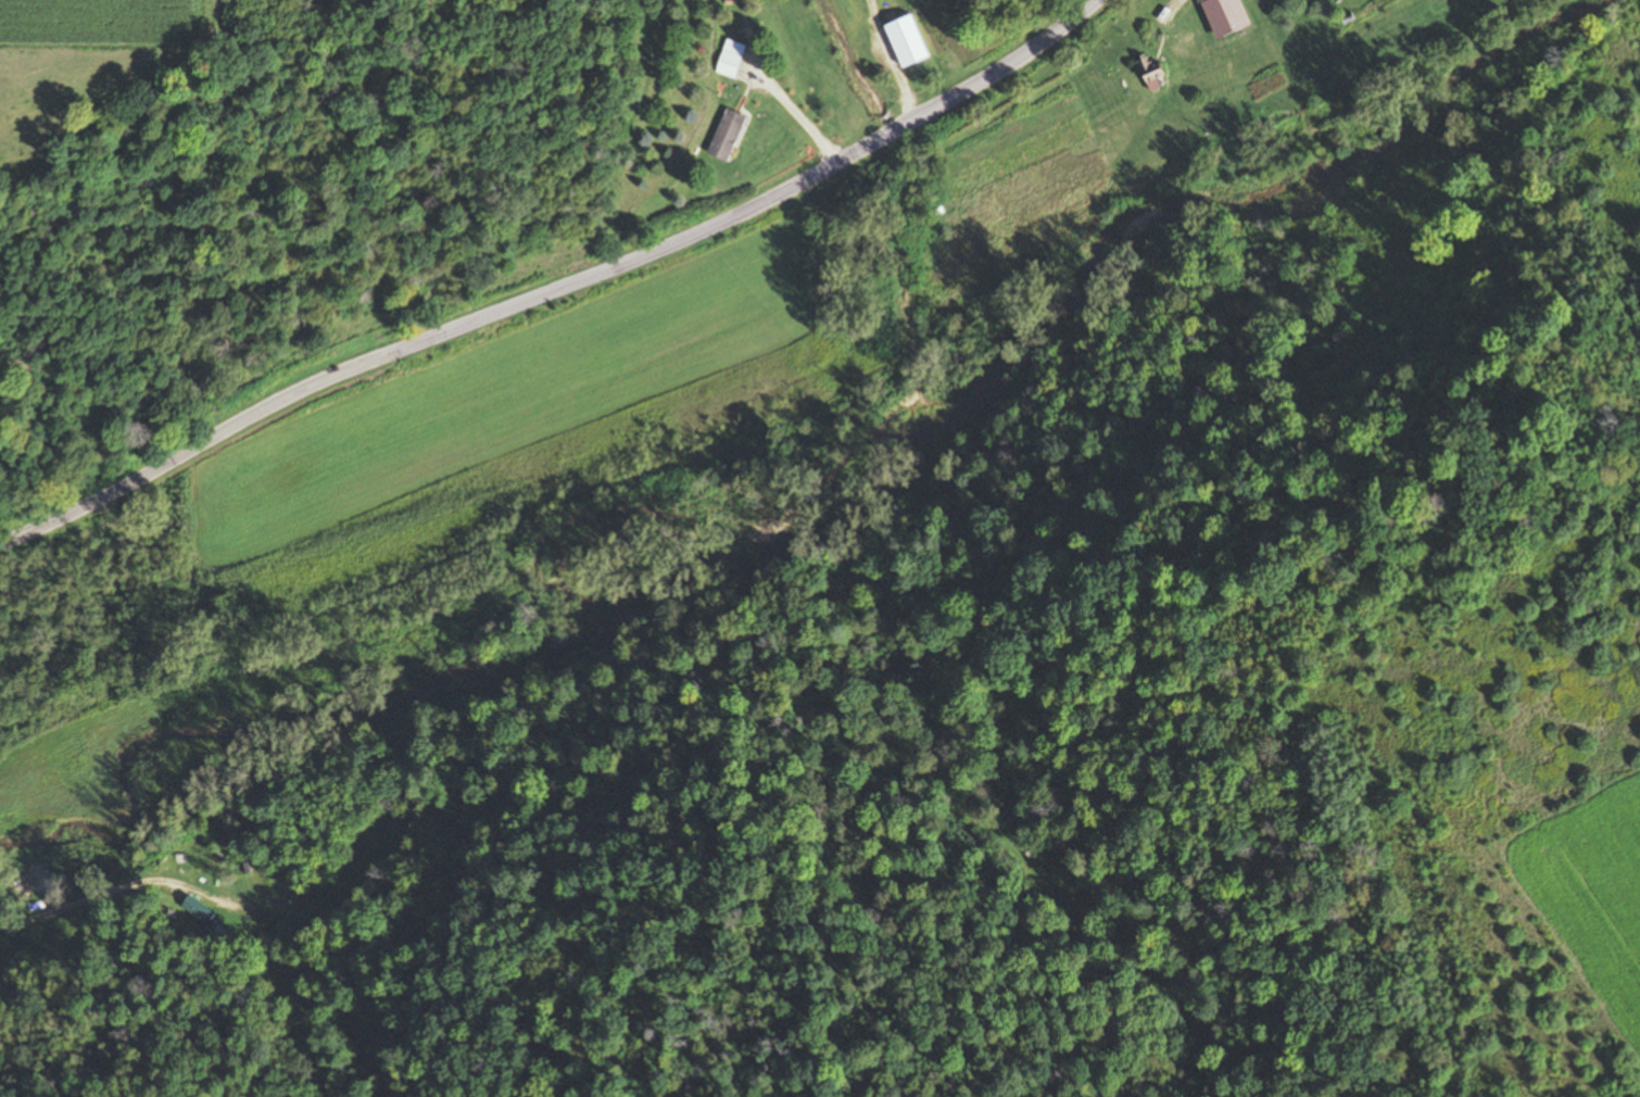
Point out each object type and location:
building: (1223, 16)
building: (730, 59)
building: (1148, 70)
building: (726, 136)
road: (562, 290)
building: (199, 877)

